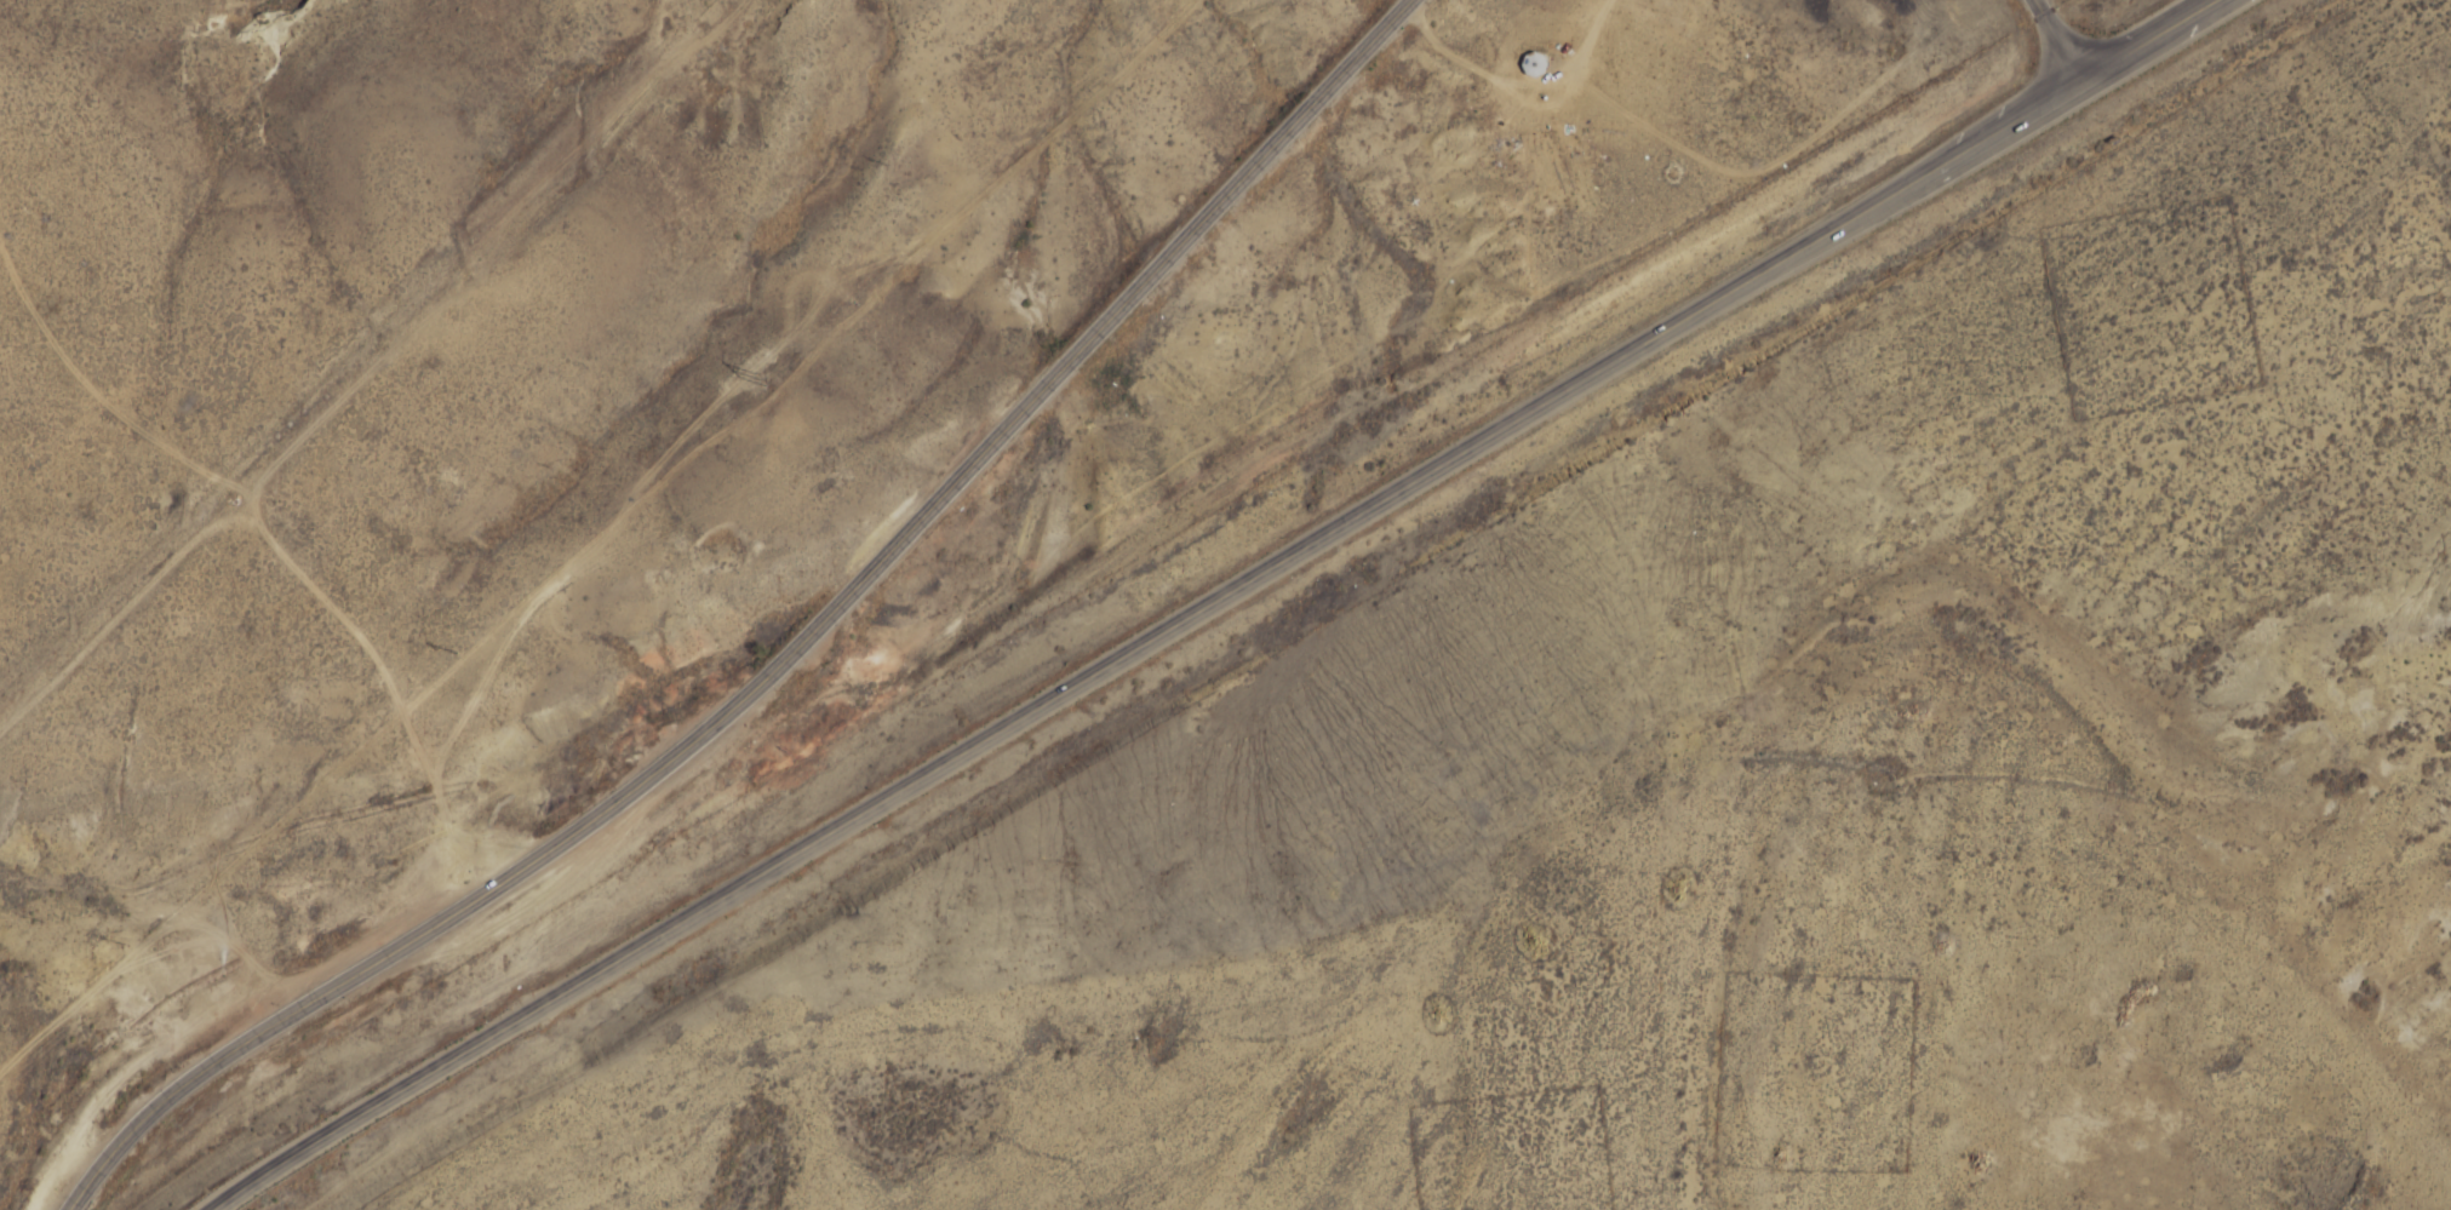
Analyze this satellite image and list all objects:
road: (2057, 40)
building: (1534, 63)
road: (1210, 601)
road: (784, 658)

